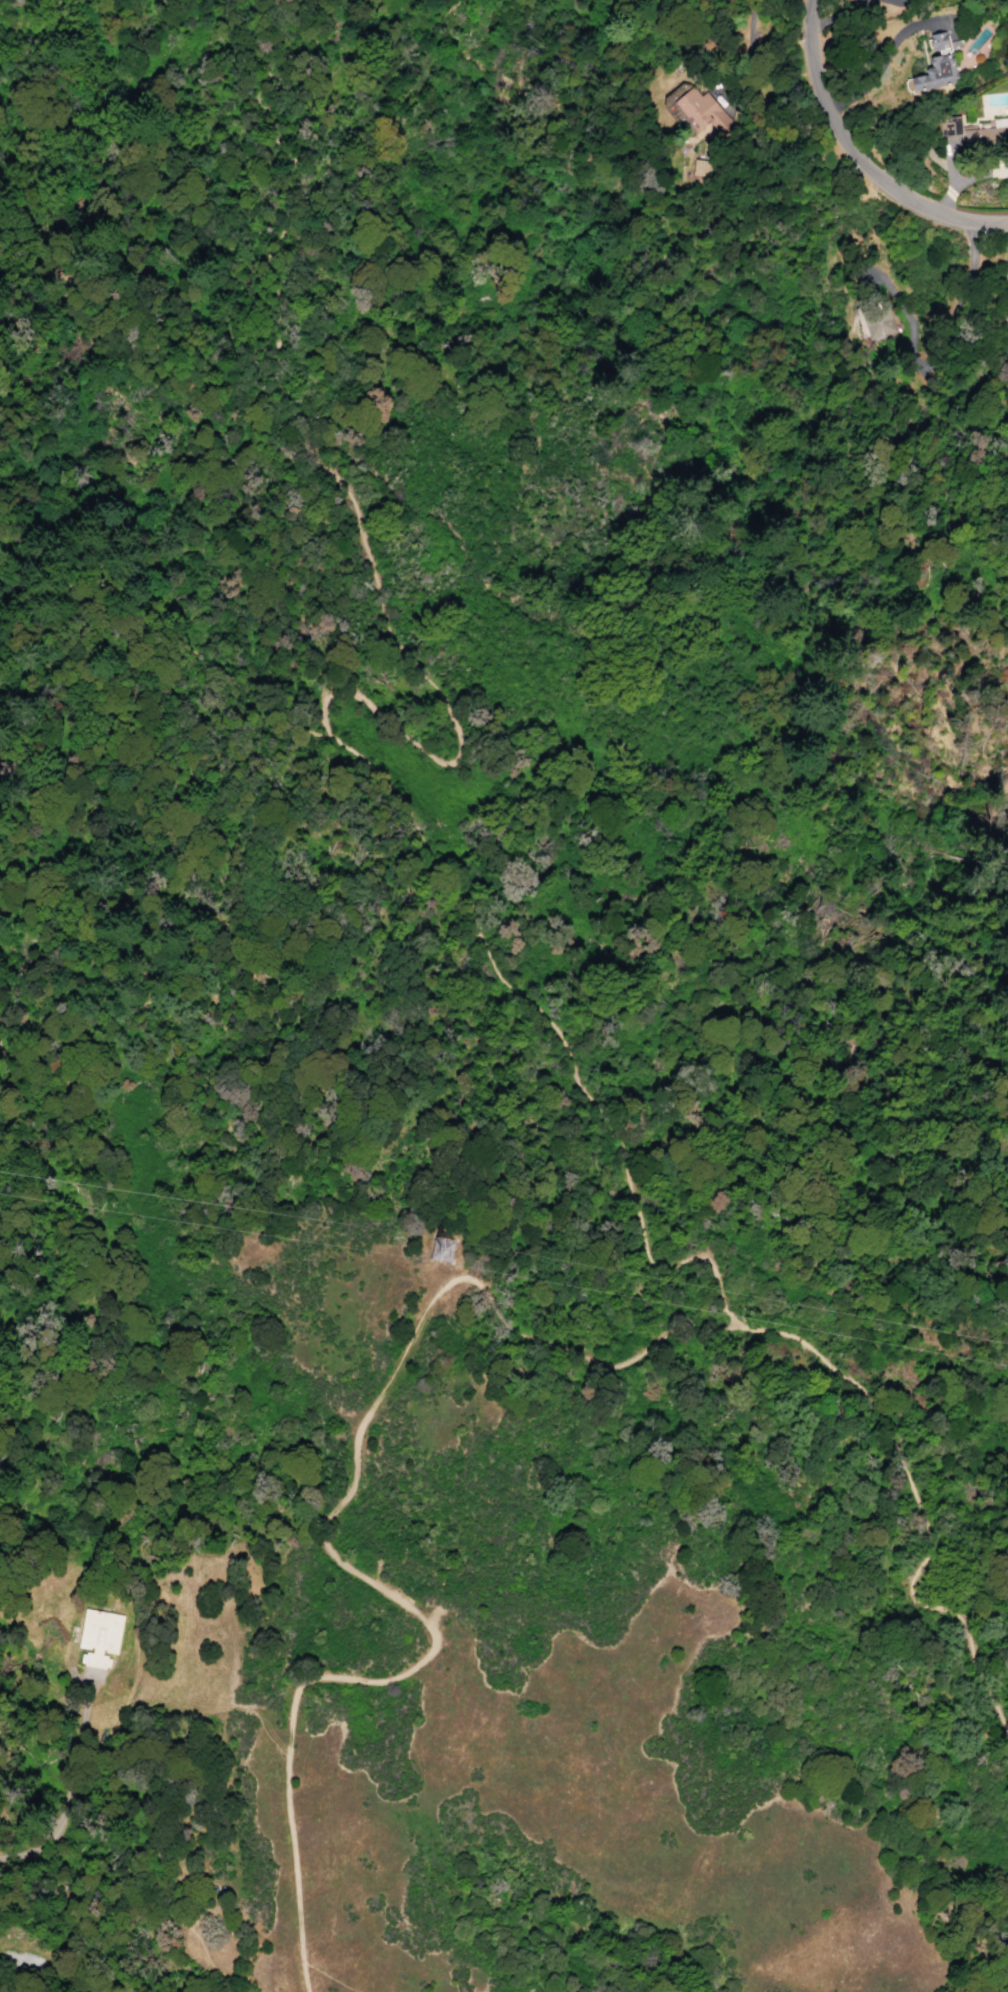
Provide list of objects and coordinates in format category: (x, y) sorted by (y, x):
road: (842, 13)
road: (880, 53)
building: (937, 65)
building: (700, 110)
building: (950, 125)
building: (984, 135)
road: (857, 159)
building: (698, 168)
road: (271, 234)
building: (874, 322)
road: (14, 602)
road: (2, 607)
road: (172, 638)
road: (410, 828)
power tower: (442, 1248)
road: (607, 1365)
road: (915, 1511)
road: (428, 1625)
building: (99, 1649)
road: (18, 1955)
road: (328, 1977)

